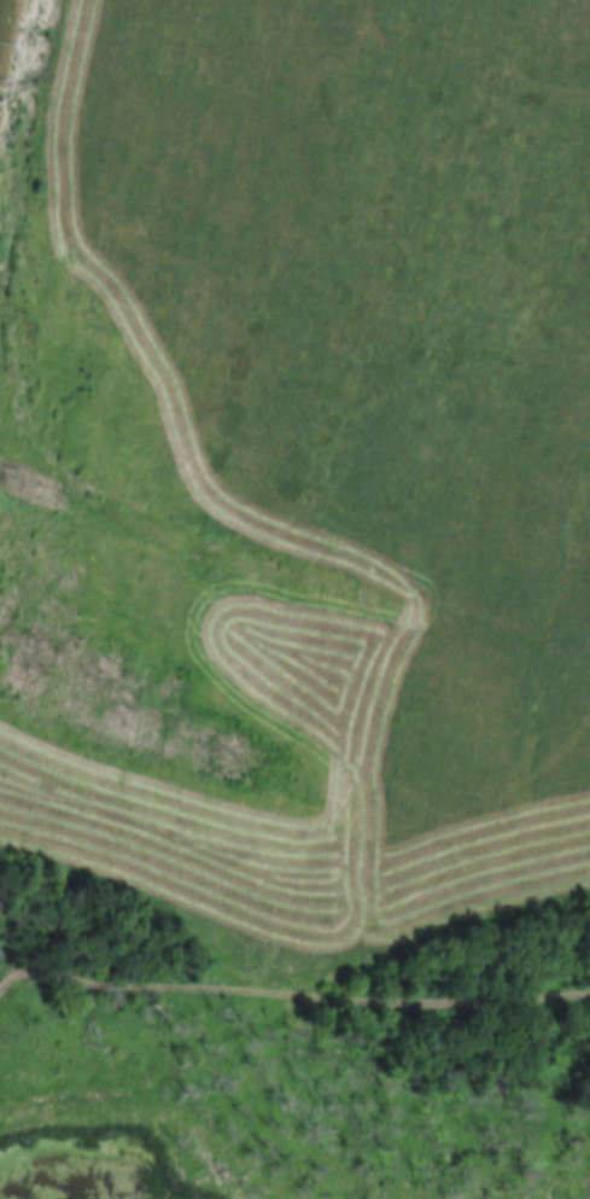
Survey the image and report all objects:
road: (556, 1070)
road: (162, 1112)

